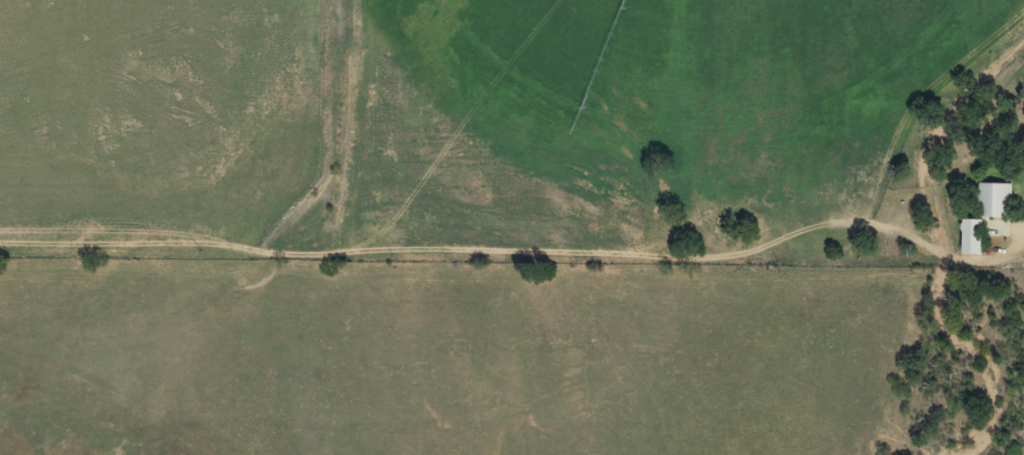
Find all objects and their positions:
building: (985, 217)
road: (887, 240)

